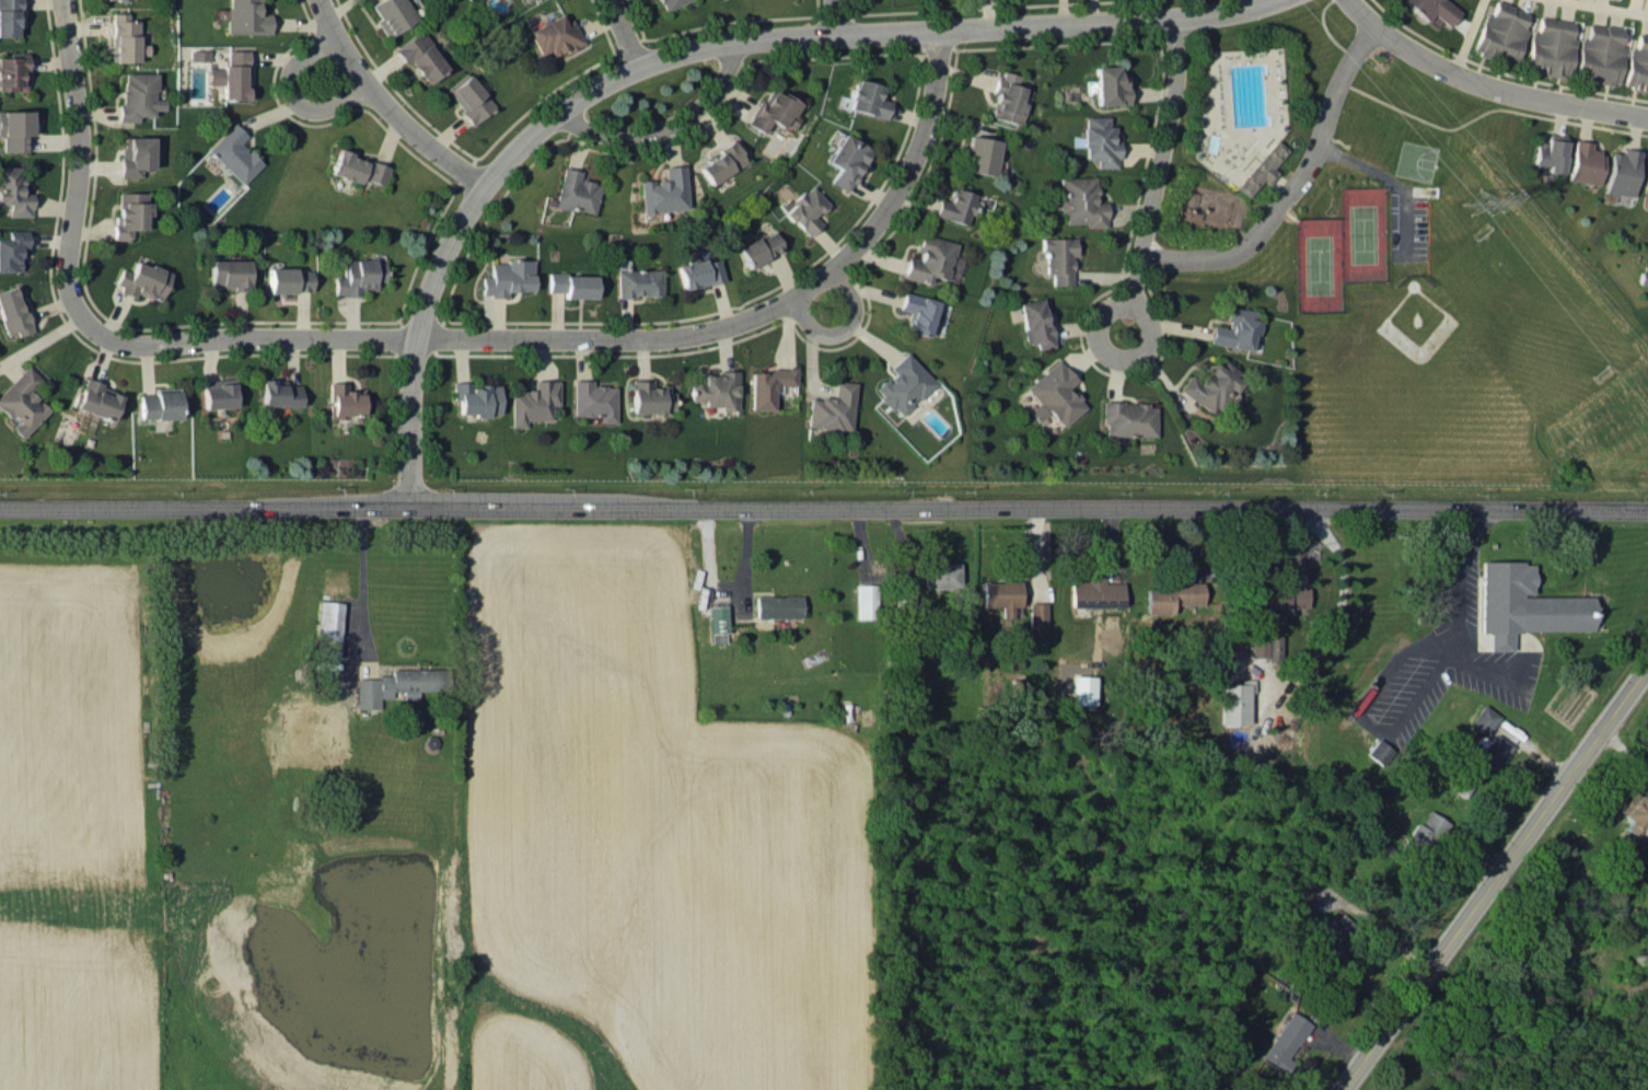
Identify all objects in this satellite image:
building: (523, 0)
building: (671, 3)
road: (1606, 7)
building: (1435, 10)
building: (391, 14)
road: (833, 15)
building: (246, 16)
building: (9, 18)
road: (618, 31)
building: (1500, 33)
building: (555, 35)
road: (1467, 36)
building: (125, 38)
road: (682, 45)
building: (1551, 47)
building: (1600, 54)
building: (420, 56)
building: (1637, 63)
building: (13, 71)
building: (232, 74)
road: (1486, 84)
building: (1107, 85)
road: (292, 94)
building: (138, 95)
building: (468, 96)
building: (1007, 97)
building: (867, 98)
road: (386, 105)
building: (774, 109)
building: (14, 128)
road: (657, 128)
building: (1099, 141)
building: (1550, 152)
building: (234, 153)
building: (136, 154)
building: (980, 154)
building: (846, 160)
building: (722, 161)
building: (1585, 162)
building: (358, 167)
building: (1261, 169)
building: (1622, 171)
road: (1156, 174)
building: (1646, 177)
road: (1290, 187)
building: (13, 190)
building: (665, 190)
building: (577, 192)
building: (1080, 201)
power tower: (1473, 204)
building: (955, 206)
building: (805, 209)
building: (130, 213)
building: (761, 247)
building: (12, 248)
building: (1058, 257)
building: (929, 259)
building: (700, 272)
building: (229, 274)
building: (359, 276)
building: (508, 277)
building: (1644, 277)
building: (143, 279)
building: (289, 279)
building: (639, 281)
building: (573, 283)
road: (763, 310)
building: (12, 311)
building: (918, 312)
building: (1034, 323)
road: (89, 324)
road: (845, 327)
building: (1233, 328)
building: (904, 384)
building: (768, 385)
building: (1208, 385)
building: (717, 389)
building: (218, 392)
building: (279, 393)
building: (1054, 394)
building: (651, 396)
building: (476, 397)
building: (97, 398)
building: (344, 399)
building: (594, 399)
building: (22, 402)
building: (534, 402)
building: (160, 403)
building: (834, 407)
building: (1127, 418)
road: (823, 506)
building: (939, 572)
road: (361, 579)
building: (1094, 592)
building: (1000, 594)
building: (1279, 595)
building: (1169, 596)
building: (866, 600)
building: (1524, 604)
building: (778, 605)
building: (1036, 614)
road: (1453, 616)
building: (717, 624)
building: (328, 628)
building: (1264, 645)
building: (394, 685)
building: (1082, 688)
building: (1234, 701)
road: (1360, 717)
building: (1484, 718)
building: (1379, 752)
building: (1493, 752)
road: (1627, 755)
building: (1635, 812)
building: (1425, 828)
road: (1498, 884)
building: (1335, 932)
building: (1283, 1042)

